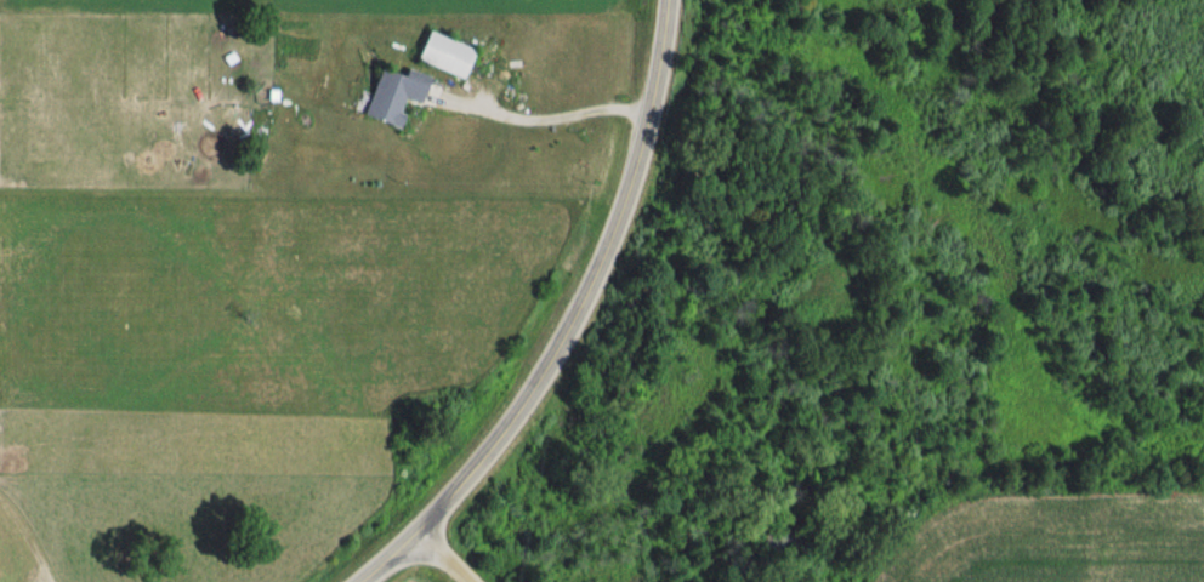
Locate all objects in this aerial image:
building: (442, 55)
building: (391, 96)
road: (555, 113)
road: (575, 321)
road: (21, 537)
road: (442, 557)

